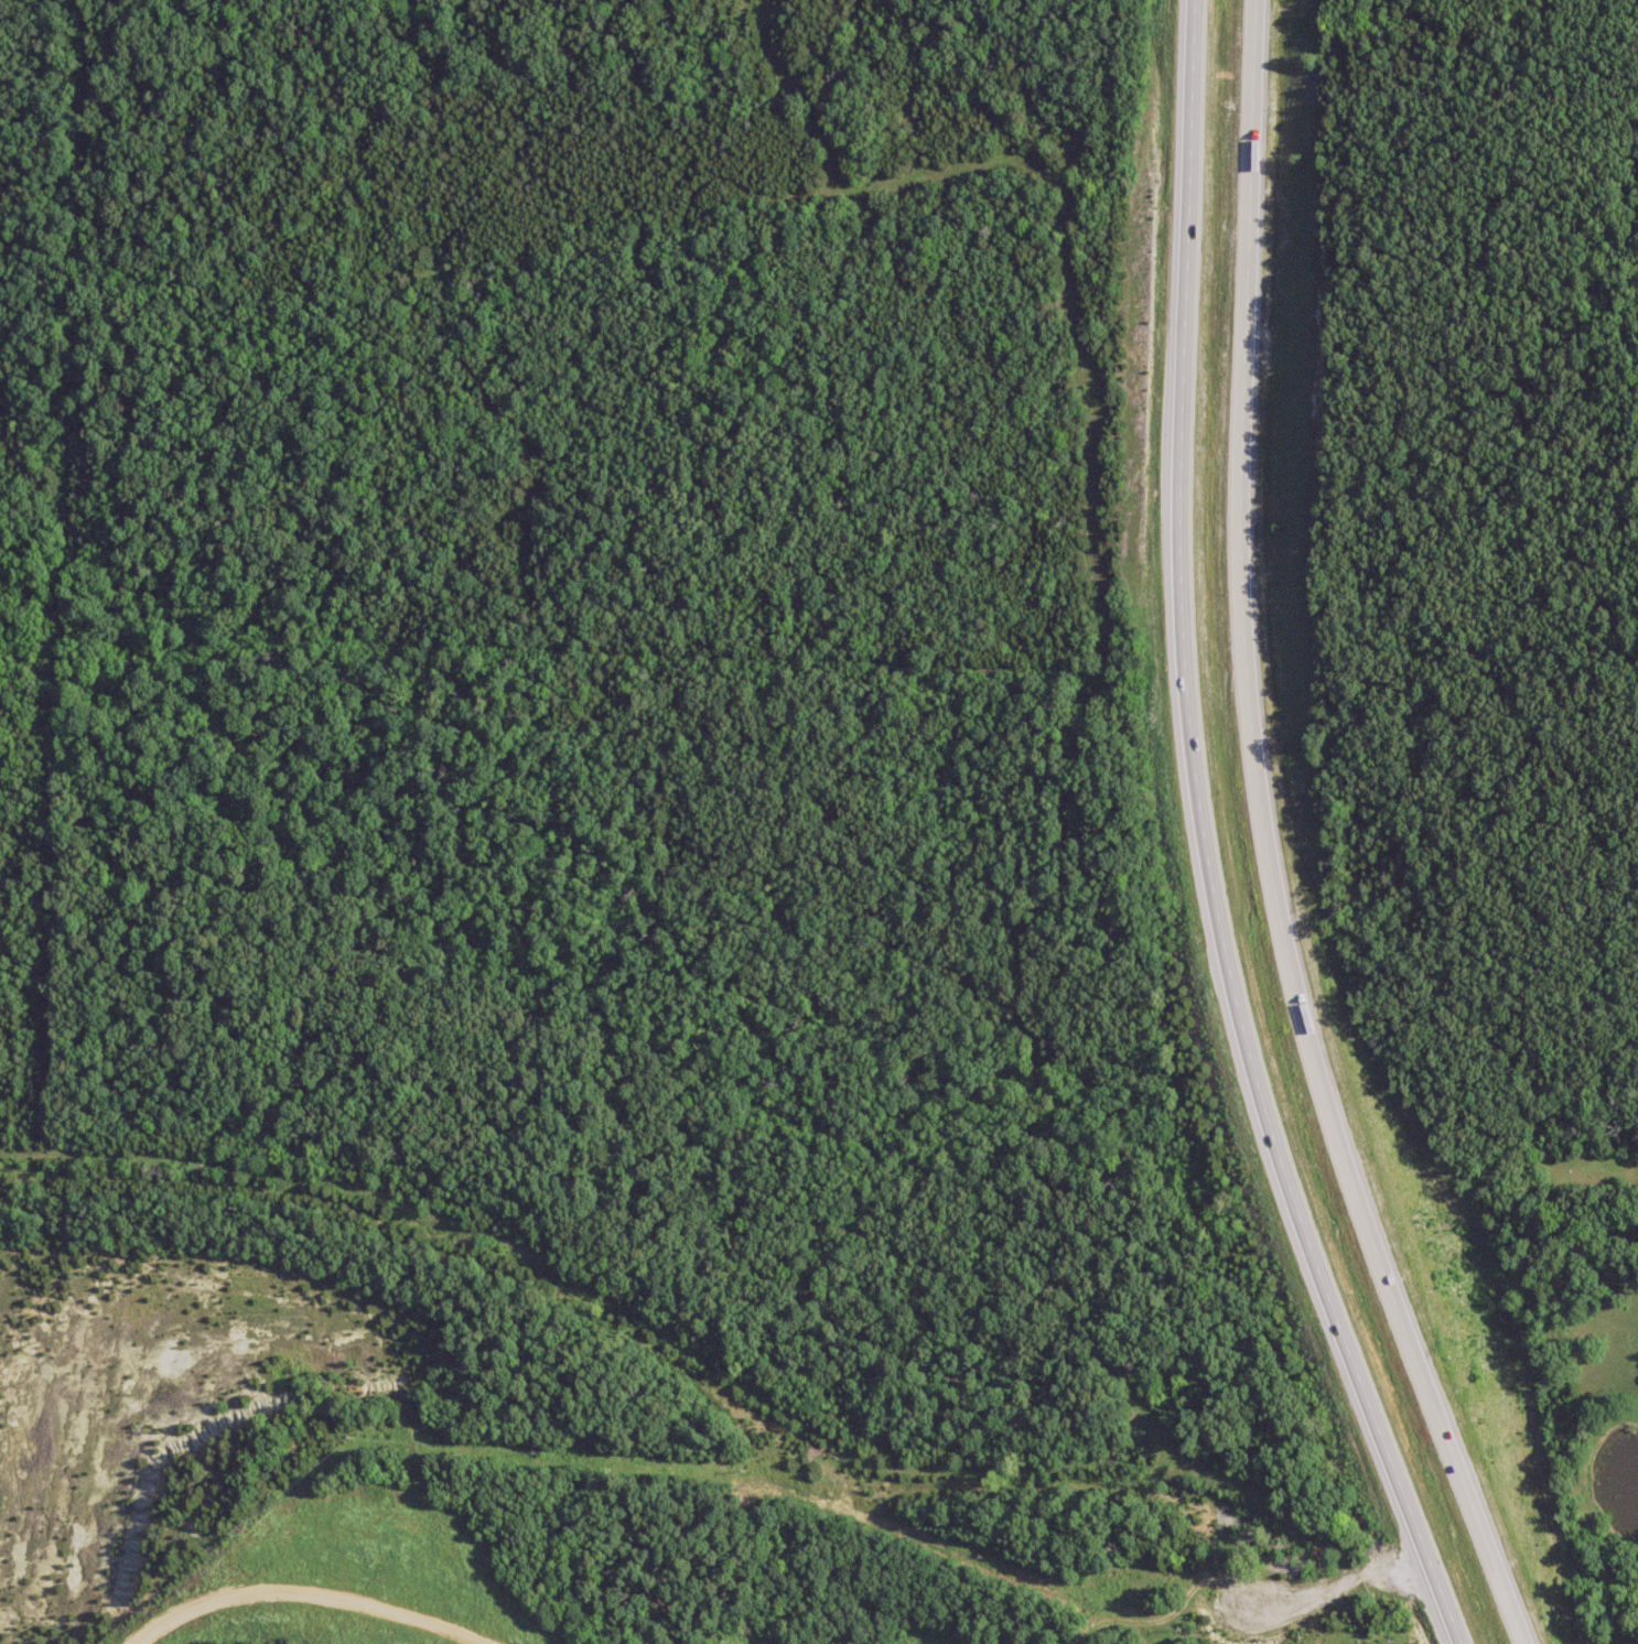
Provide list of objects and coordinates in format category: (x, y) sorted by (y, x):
road: (1204, 841)
road: (1270, 843)

